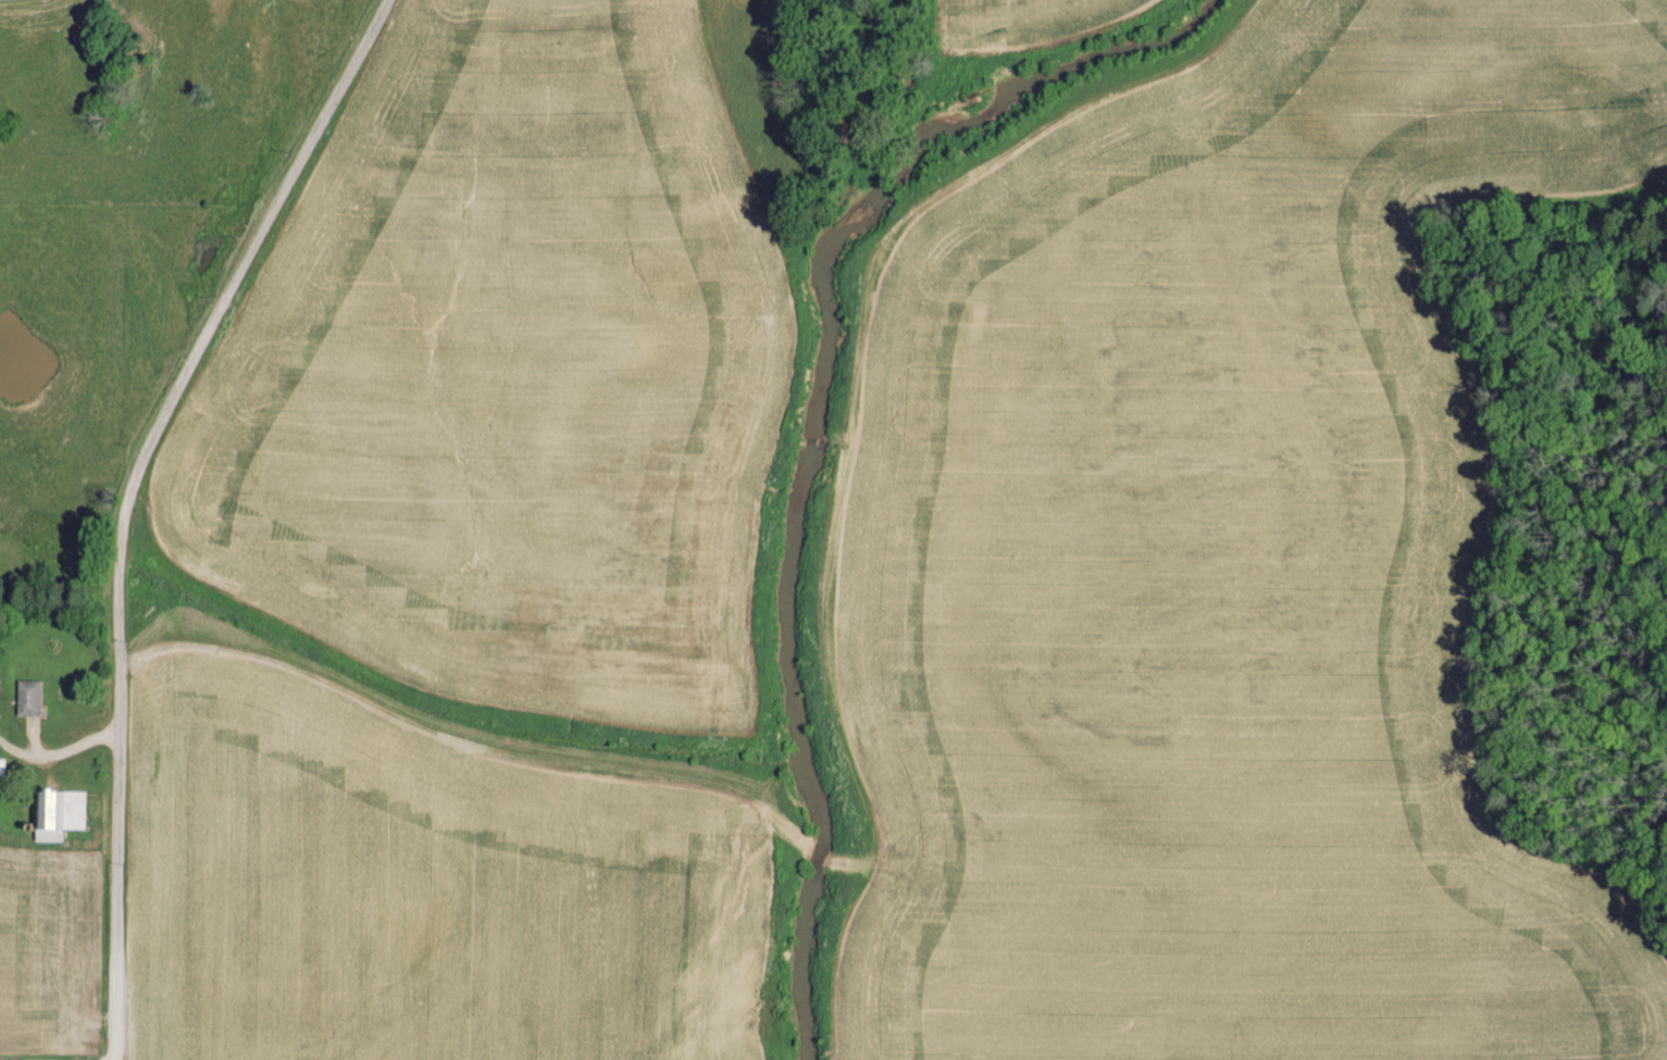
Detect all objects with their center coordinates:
road: (138, 501)
building: (26, 697)
building: (55, 812)

